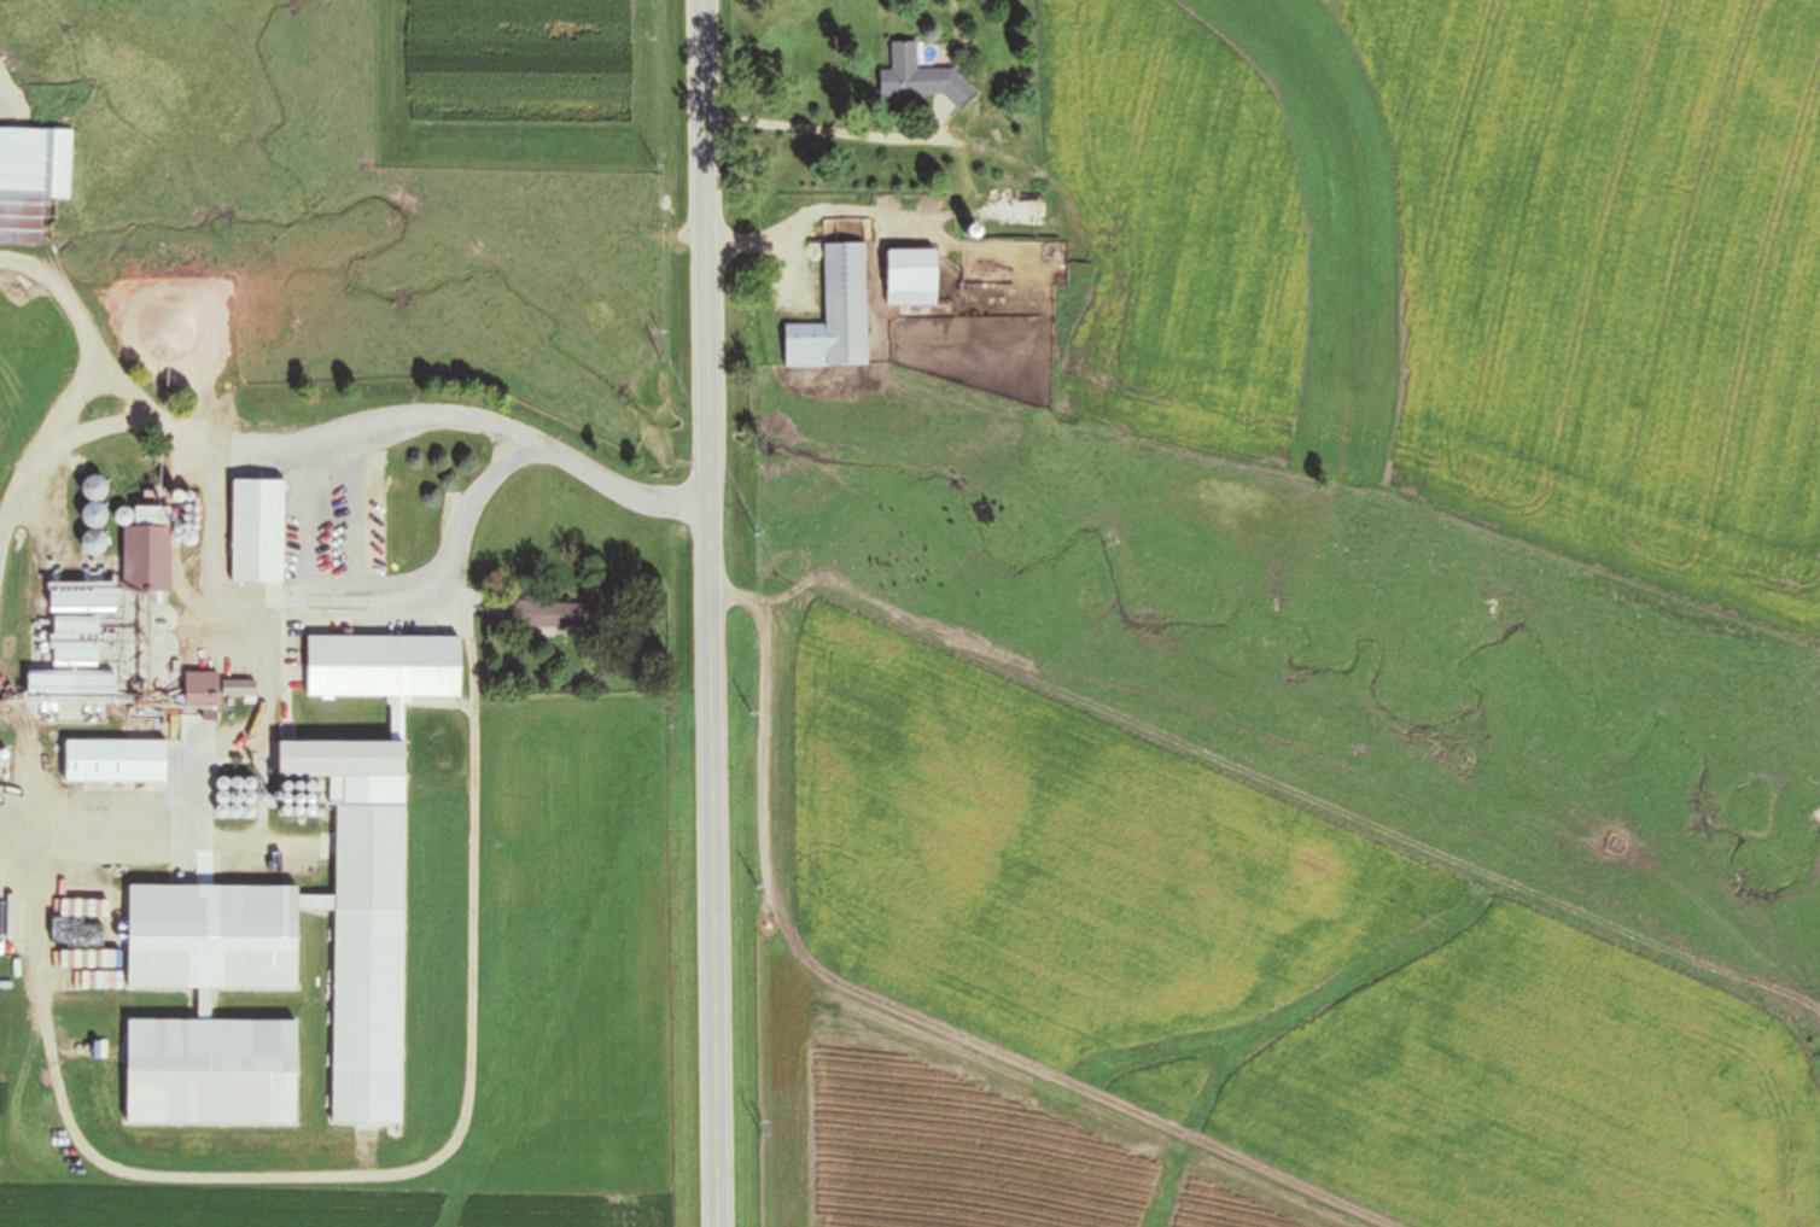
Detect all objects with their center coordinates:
building: (918, 77)
road: (830, 134)
building: (31, 180)
building: (910, 276)
building: (834, 314)
road: (315, 439)
building: (257, 531)
building: (147, 554)
road: (344, 610)
road: (705, 613)
building: (554, 614)
building: (74, 639)
building: (383, 666)
building: (200, 689)
building: (339, 758)
building: (115, 760)
building: (368, 858)
building: (214, 937)
building: (210, 1073)

